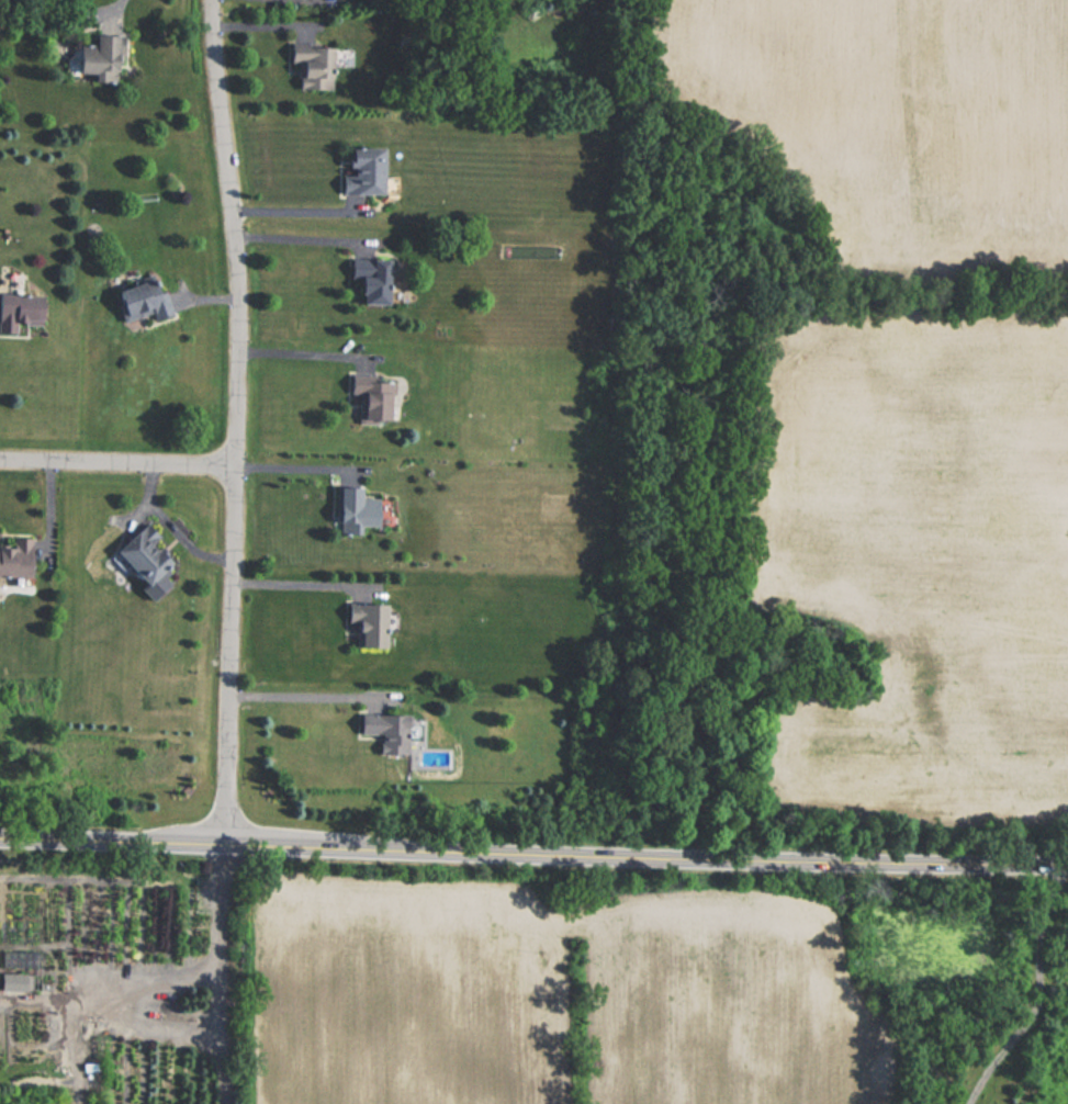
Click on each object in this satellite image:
road: (116, 10)
building: (92, 57)
building: (311, 66)
building: (359, 170)
road: (300, 211)
road: (302, 238)
building: (367, 281)
building: (140, 300)
building: (19, 313)
road: (302, 354)
building: (364, 402)
road: (240, 420)
road: (299, 462)
road: (120, 463)
building: (350, 510)
building: (14, 557)
building: (145, 561)
road: (295, 583)
road: (306, 696)
building: (390, 735)
road: (533, 854)
road: (217, 909)
building: (10, 982)
road: (1038, 992)
road: (112, 1000)
road: (173, 1021)
road: (216, 1038)

